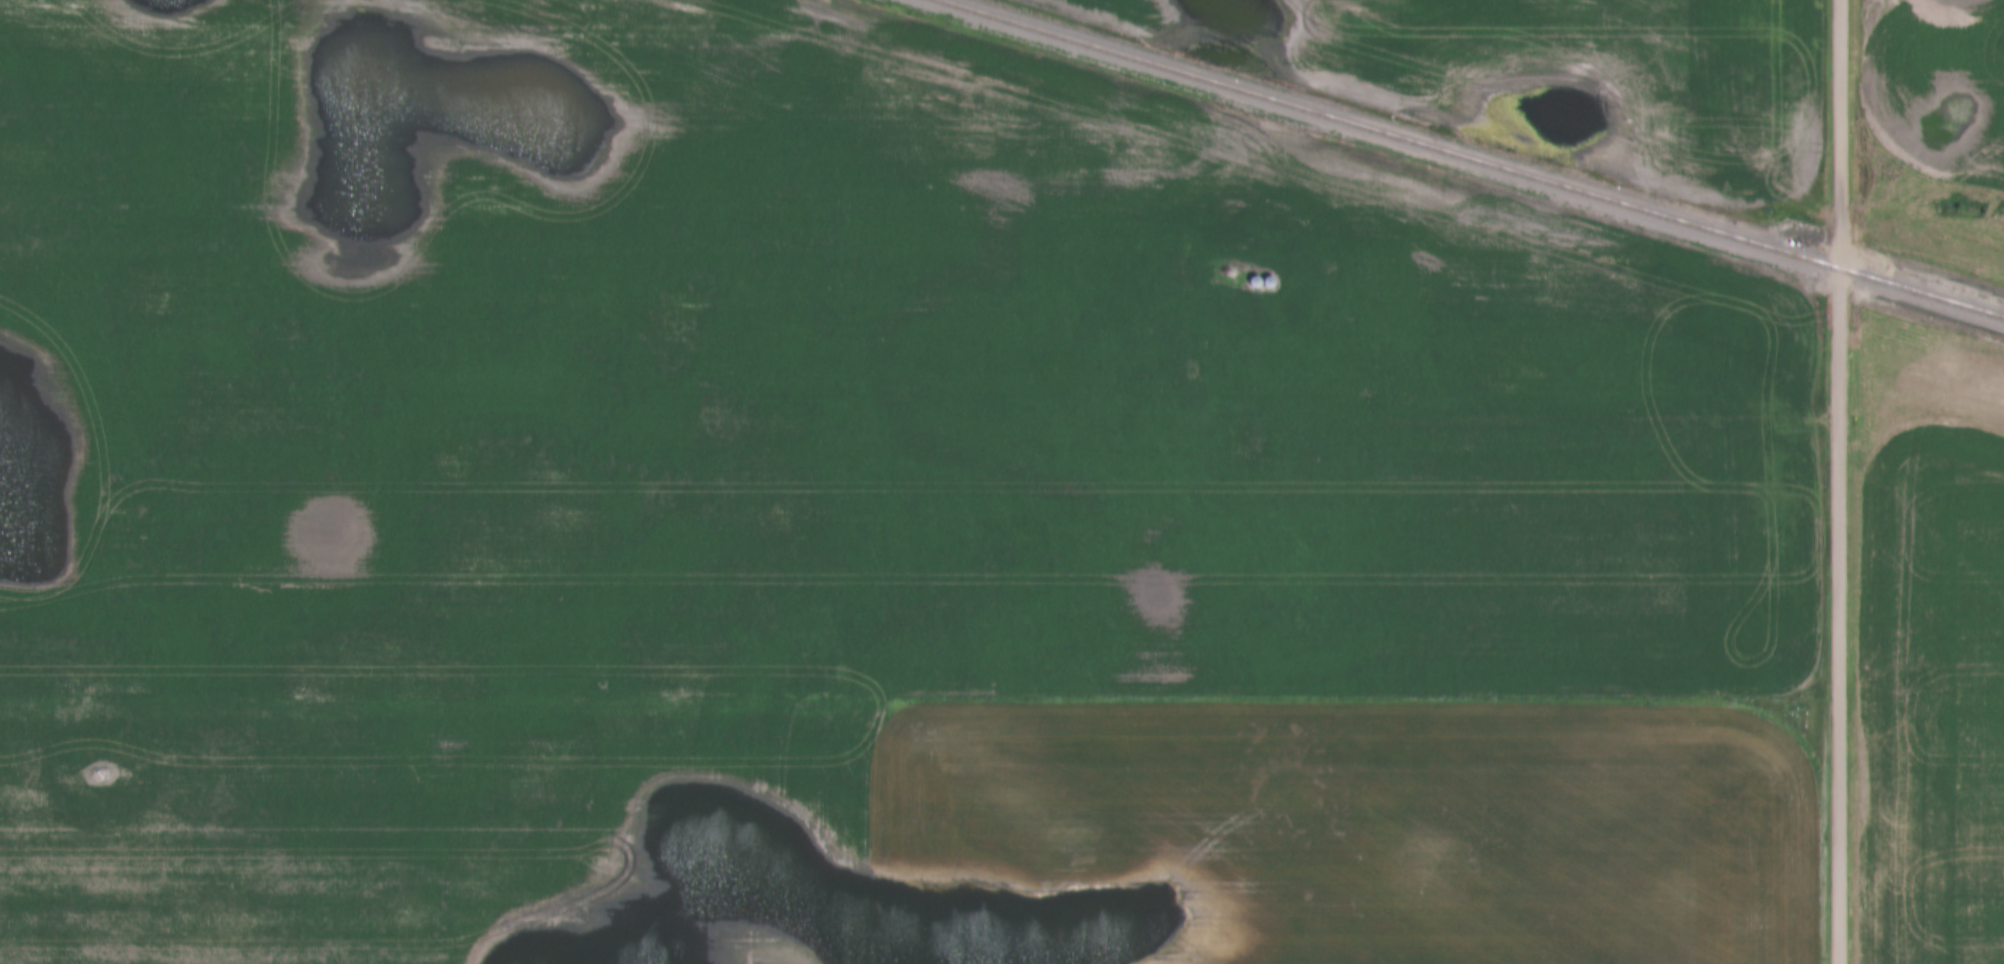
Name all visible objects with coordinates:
crop: (1570, 69)
railway: (1468, 158)
crop: (833, 372)
road: (1839, 482)

